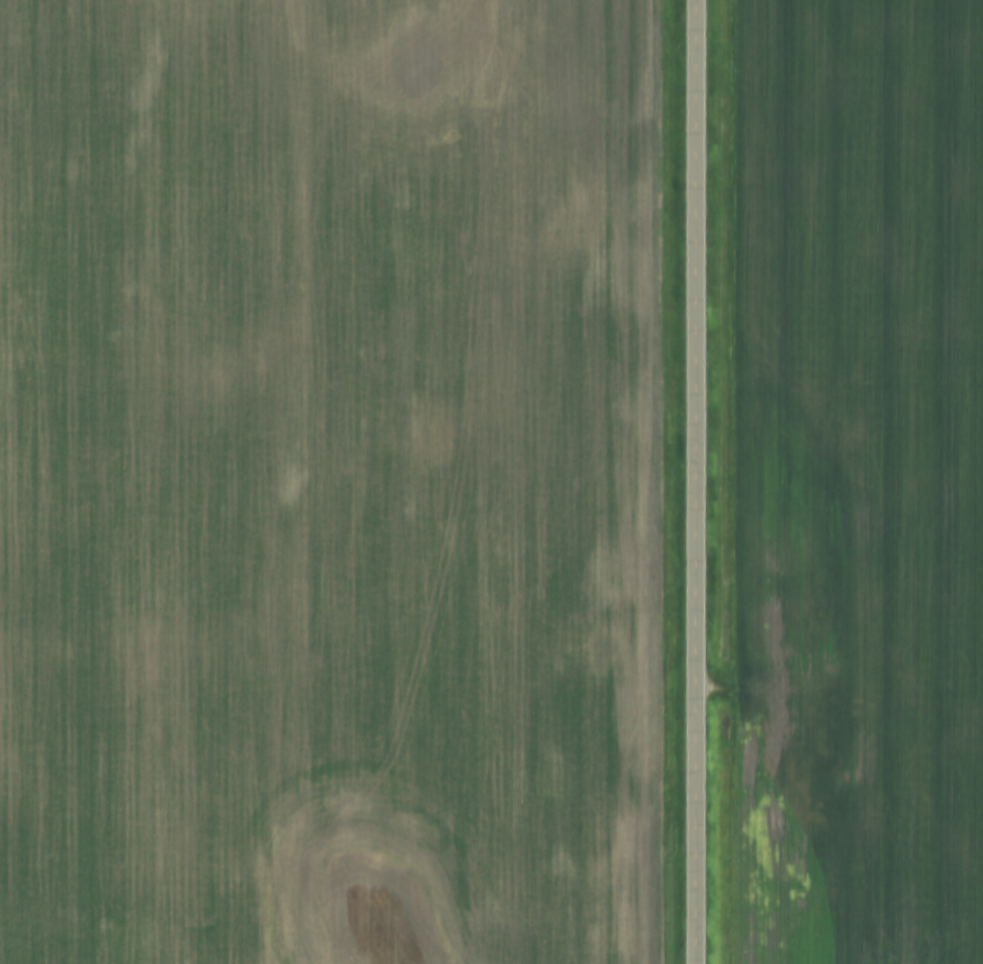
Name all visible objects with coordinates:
road: (703, 481)

